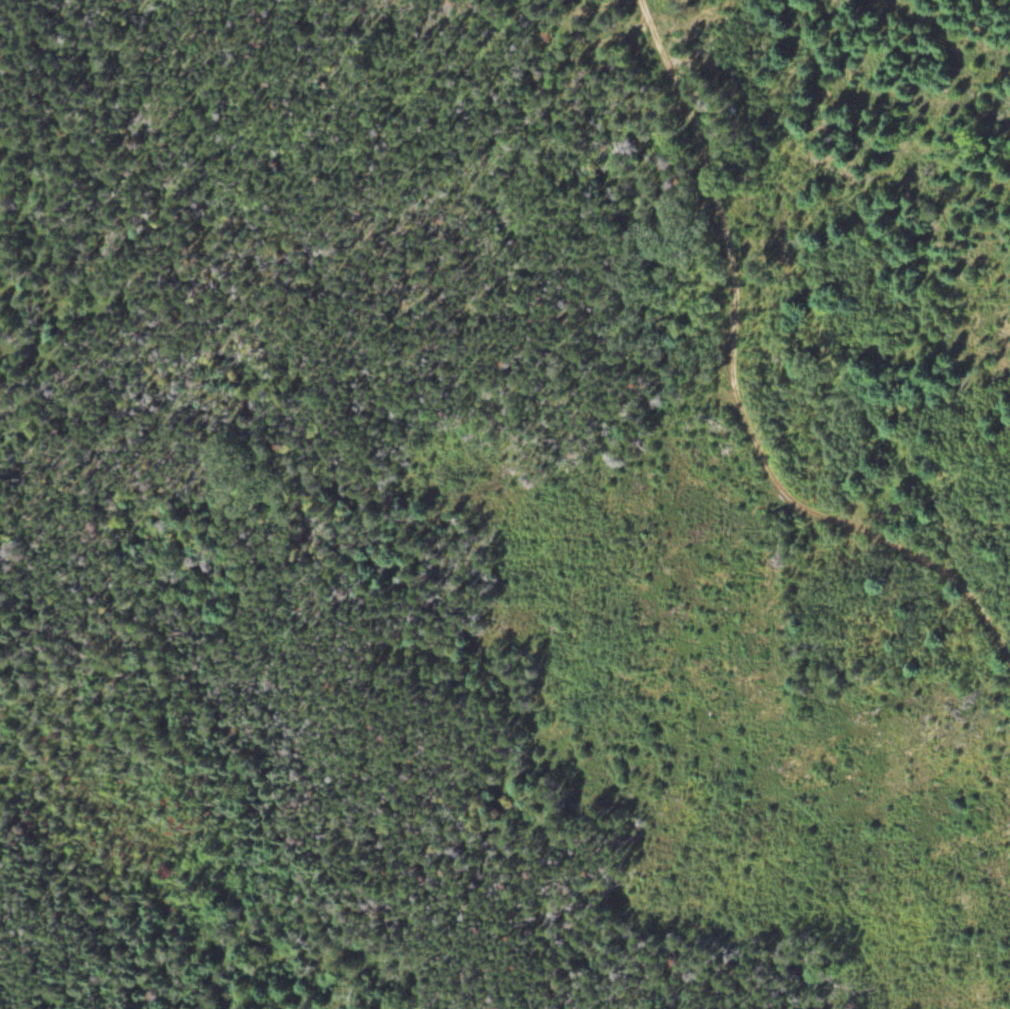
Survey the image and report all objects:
road: (739, 390)

